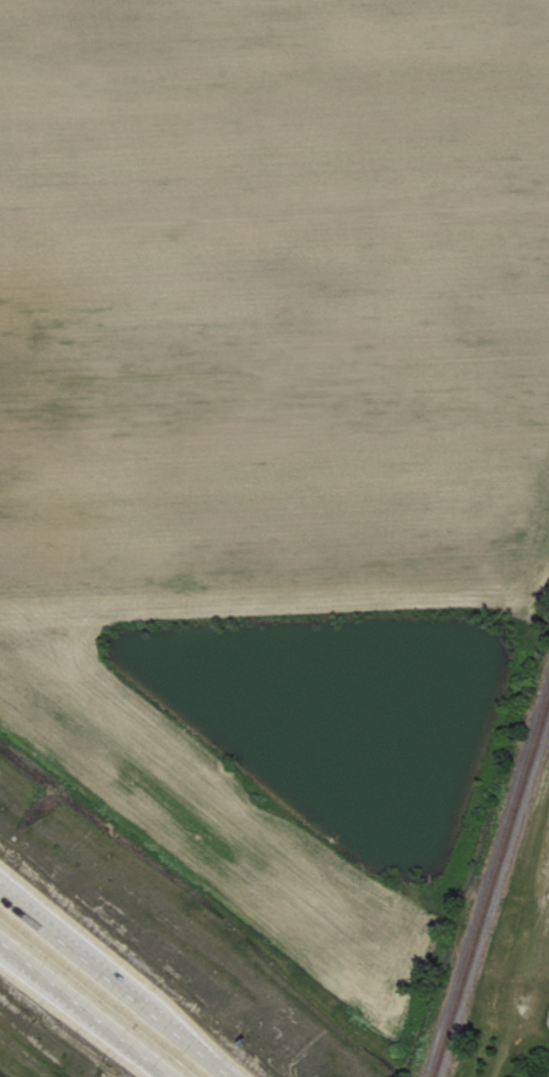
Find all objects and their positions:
crop: (272, 296)
railway: (492, 889)
road: (118, 982)
road: (92, 1002)

